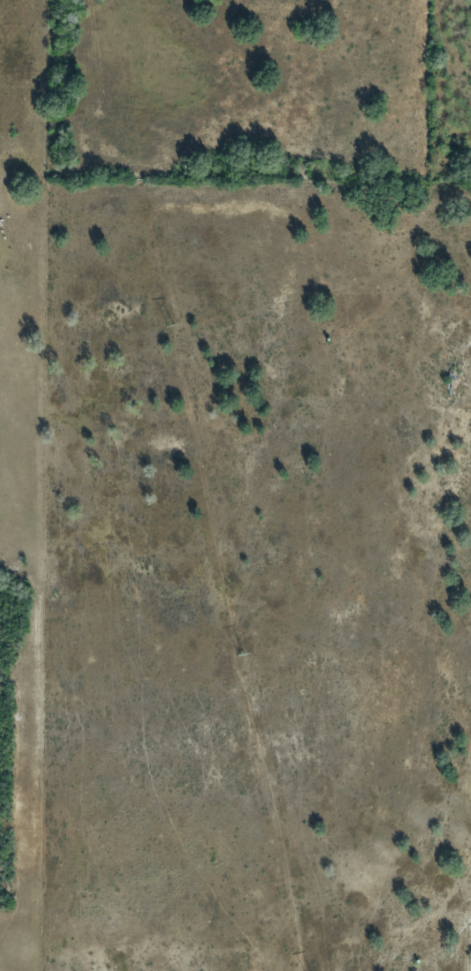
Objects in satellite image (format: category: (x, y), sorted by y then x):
power tower: (168, 325)
power tower: (239, 653)

